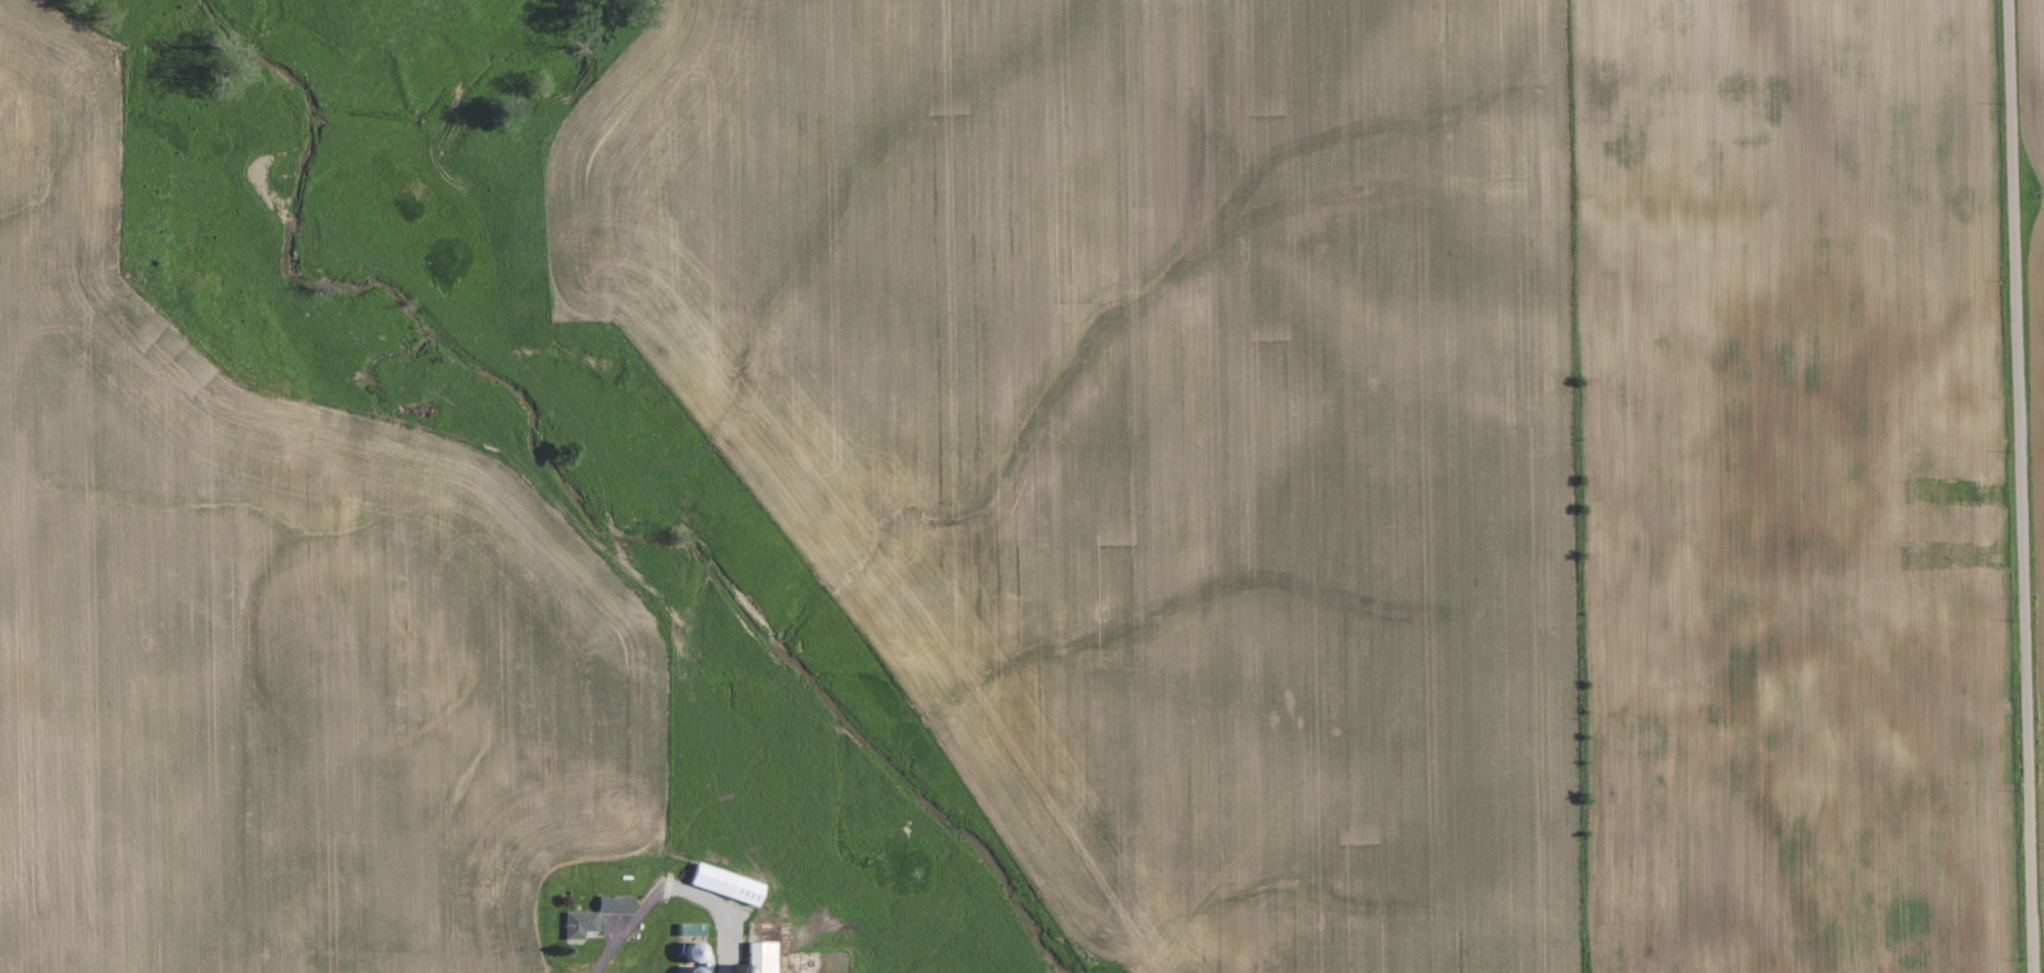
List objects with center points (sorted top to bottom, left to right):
road: (2023, 486)
building: (728, 884)
road: (671, 886)
building: (581, 924)
building: (763, 957)
building: (789, 965)

